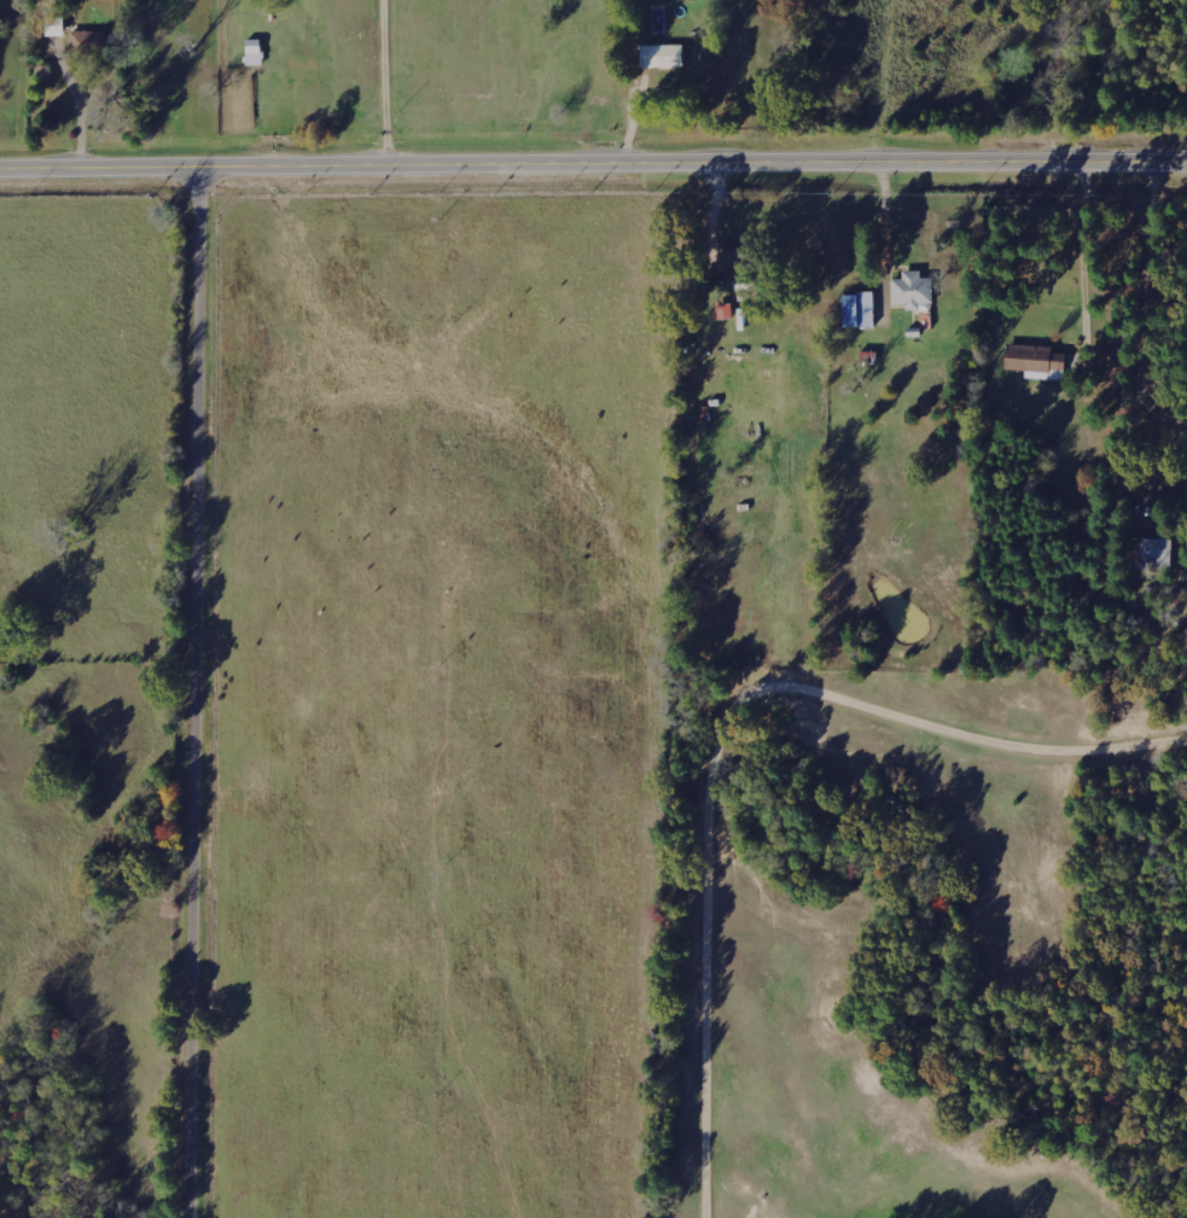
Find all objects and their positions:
building: (53, 24)
building: (252, 51)
building: (661, 54)
road: (593, 162)
building: (738, 251)
building: (912, 289)
building: (856, 308)
building: (725, 310)
building: (1026, 356)
building: (1150, 552)
road: (206, 690)
road: (886, 975)

